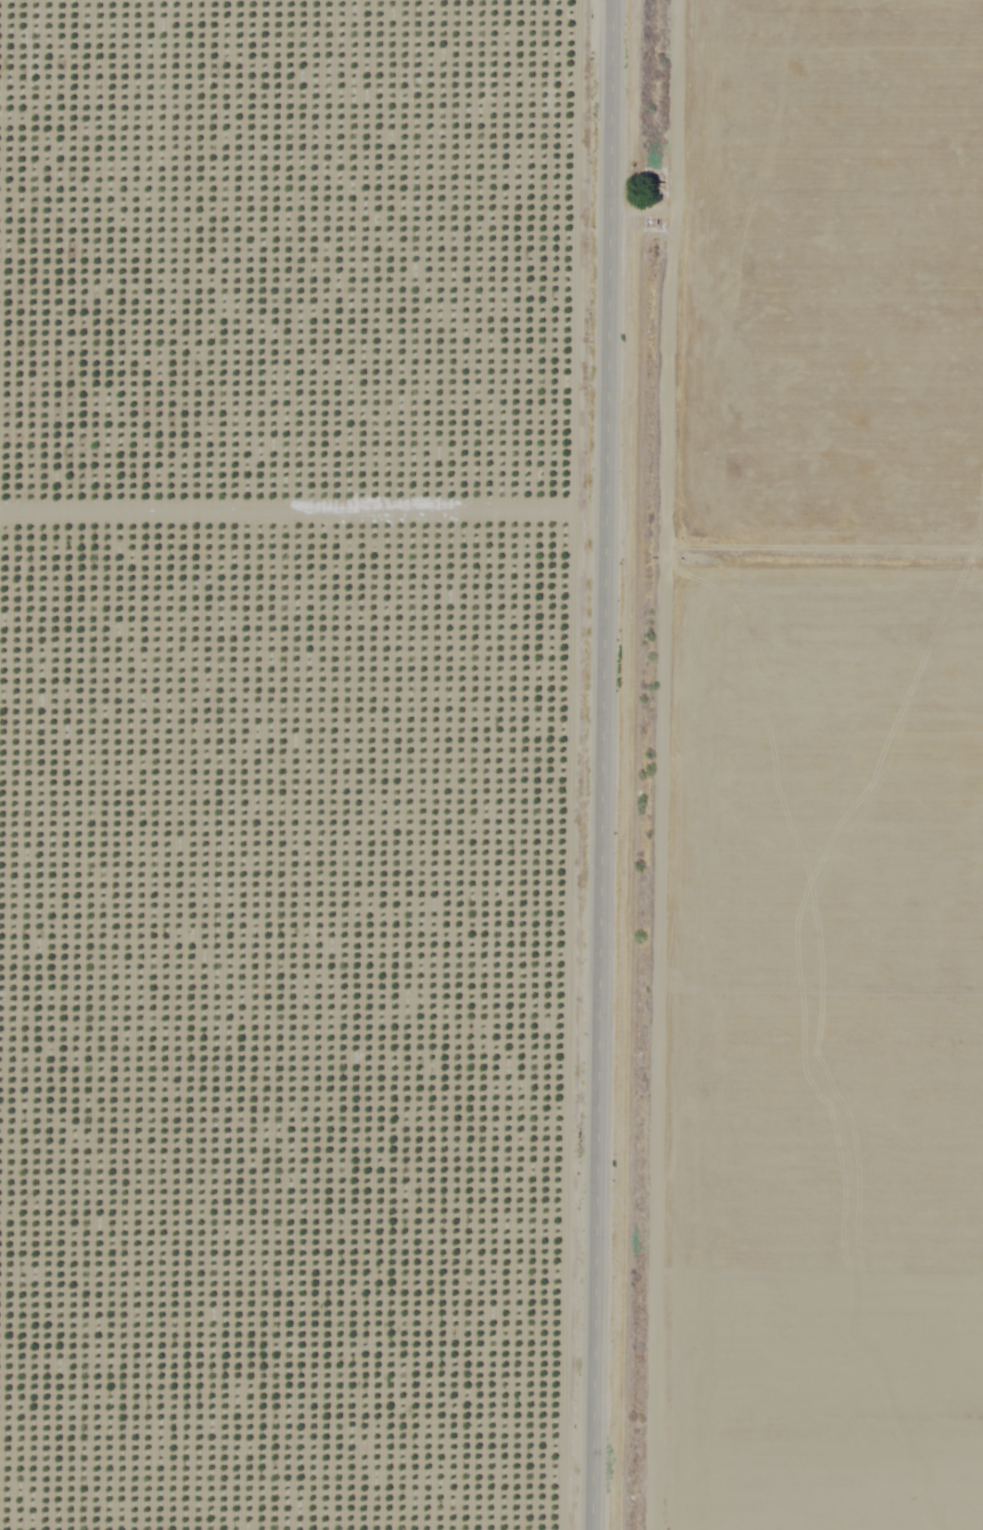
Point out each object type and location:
crop: (294, 760)
road: (604, 765)

